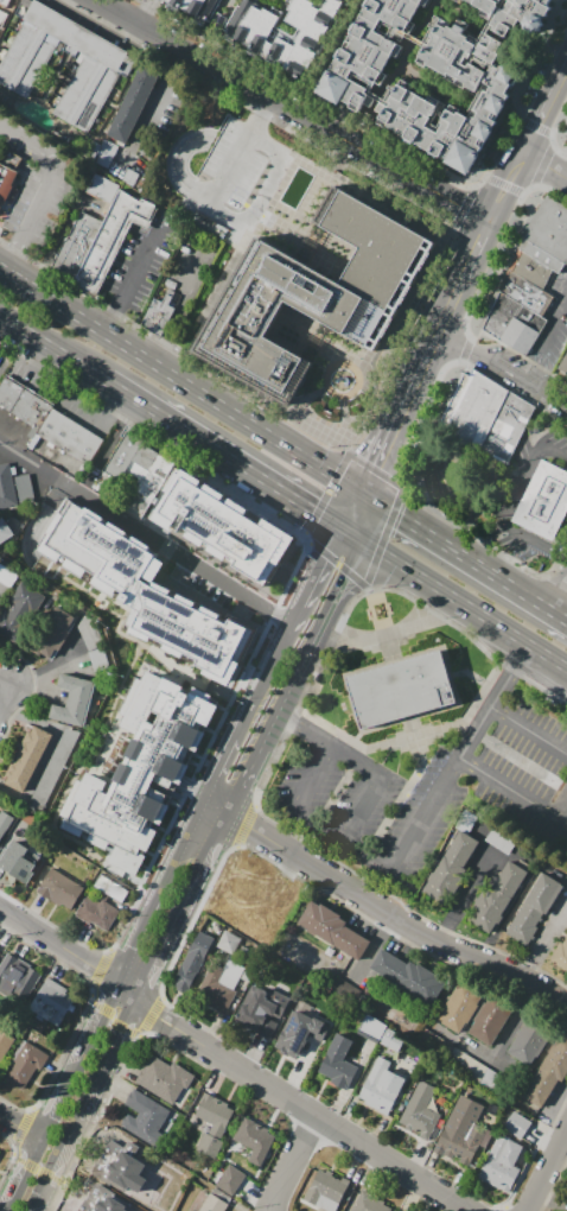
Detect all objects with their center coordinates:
building: (4, 1)
building: (192, 7)
building: (517, 15)
building: (289, 34)
building: (78, 37)
building: (416, 40)
road: (325, 55)
building: (25, 58)
building: (342, 89)
road: (158, 94)
building: (87, 95)
building: (133, 103)
road: (293, 110)
road: (547, 114)
road: (243, 150)
road: (558, 158)
parking lot: (234, 163)
road: (547, 165)
road: (53, 182)
building: (7, 183)
building: (104, 189)
road: (508, 189)
road: (224, 215)
building: (548, 234)
building: (114, 240)
building: (78, 243)
road: (478, 248)
building: (530, 268)
road: (135, 278)
building: (525, 292)
building: (312, 297)
road: (186, 298)
road: (453, 303)
building: (158, 315)
building: (512, 322)
road: (113, 330)
road: (552, 331)
road: (434, 342)
road: (160, 349)
road: (51, 354)
road: (490, 362)
building: (563, 364)
road: (39, 367)
road: (530, 374)
road: (418, 380)
building: (12, 393)
road: (554, 401)
road: (102, 408)
building: (36, 410)
road: (149, 414)
building: (483, 416)
road: (260, 420)
road: (395, 431)
building: (72, 437)
road: (295, 444)
building: (125, 451)
road: (554, 451)
fountain: (510, 457)
building: (142, 462)
road: (533, 463)
road: (232, 465)
road: (335, 468)
traffic signals: (380, 468)
road: (377, 471)
building: (155, 476)
road: (63, 480)
park: (457, 481)
building: (6, 487)
building: (23, 487)
road: (276, 493)
road: (512, 501)
building: (543, 503)
road: (355, 511)
traffic signals: (403, 512)
road: (311, 514)
traffic signals: (311, 514)
road: (362, 515)
road: (415, 519)
building: (223, 527)
building: (5, 532)
road: (493, 532)
road: (348, 537)
road: (531, 539)
road: (333, 543)
road: (480, 551)
road: (467, 554)
road: (563, 558)
road: (401, 570)
road: (209, 571)
traffic signals: (342, 572)
road: (339, 576)
road: (314, 577)
building: (152, 589)
road: (520, 589)
road: (560, 597)
road: (450, 602)
building: (17, 613)
road: (295, 616)
road: (438, 619)
road: (318, 622)
building: (53, 634)
road: (283, 640)
road: (510, 640)
road: (306, 647)
road: (8, 687)
building: (401, 689)
building: (71, 702)
road: (269, 722)
road: (527, 730)
road: (330, 742)
building: (26, 757)
building: (55, 763)
building: (141, 766)
road: (312, 774)
building: (543, 780)
road: (444, 781)
parking lot: (435, 787)
road: (508, 791)
road: (362, 807)
road: (199, 816)
road: (562, 816)
building: (5, 822)
building: (19, 861)
building: (450, 867)
building: (60, 888)
building: (110, 888)
road: (187, 892)
building: (496, 896)
road: (382, 908)
building: (530, 909)
building: (100, 911)
building: (333, 930)
building: (228, 941)
road: (58, 944)
building: (561, 956)
building: (192, 962)
building: (407, 975)
building: (18, 977)
building: (219, 985)
building: (345, 989)
road: (127, 991)
building: (50, 1002)
building: (461, 1003)
building: (260, 1013)
building: (491, 1019)
road: (514, 1021)
building: (371, 1026)
building: (299, 1034)
building: (533, 1039)
building: (393, 1040)
building: (5, 1041)
road: (171, 1051)
road: (491, 1058)
building: (24, 1061)
building: (337, 1063)
building: (547, 1076)
building: (166, 1080)
building: (381, 1086)
road: (62, 1096)
road: (84, 1105)
road: (301, 1109)
building: (416, 1111)
building: (215, 1114)
building: (146, 1116)
building: (517, 1124)
road: (20, 1126)
building: (463, 1130)
building: (255, 1140)
building: (208, 1146)
road: (350, 1156)
building: (501, 1164)
road: (295, 1165)
road: (547, 1171)
building: (230, 1179)
road: (555, 1188)
building: (325, 1190)
building: (212, 1203)
building: (370, 1203)
building: (195, 1210)

